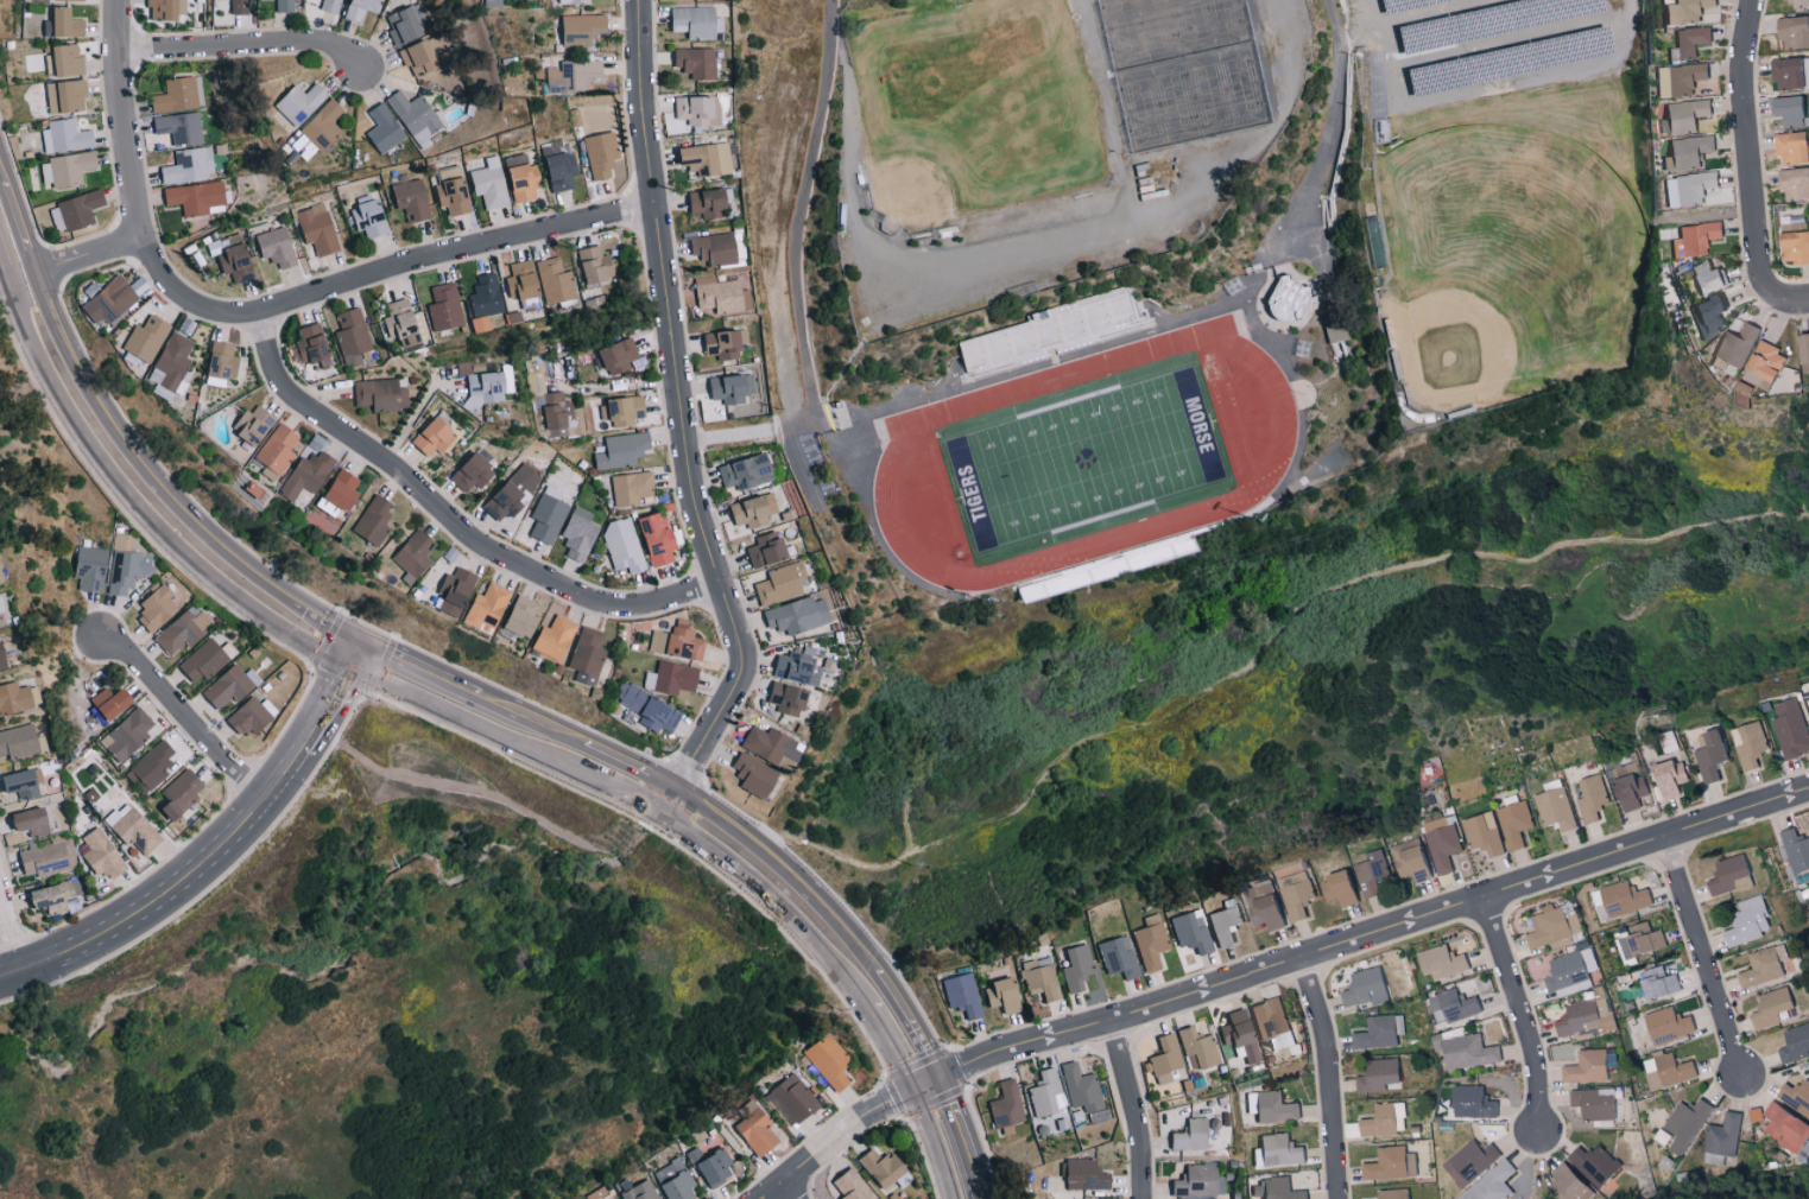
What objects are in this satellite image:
building: (575, 1)
building: (1799, 2)
building: (284, 5)
building: (331, 5)
building: (240, 6)
road: (1627, 6)
building: (362, 7)
building: (167, 8)
building: (1684, 11)
building: (696, 21)
building: (68, 23)
building: (405, 25)
building: (583, 28)
building: (1792, 31)
building: (1690, 40)
road: (246, 43)
building: (420, 58)
building: (68, 59)
building: (697, 61)
building: (1785, 72)
building: (573, 75)
building: (1684, 77)
building: (177, 95)
building: (67, 96)
building: (301, 102)
park: (973, 108)
building: (698, 109)
building: (1788, 110)
building: (1683, 115)
building: (416, 118)
building: (324, 125)
road: (1332, 126)
building: (179, 127)
building: (384, 128)
building: (67, 135)
building: (1790, 147)
building: (1685, 152)
road: (1751, 152)
building: (601, 153)
building: (708, 158)
building: (189, 165)
building: (559, 165)
building: (67, 169)
building: (523, 177)
building: (491, 182)
building: (1792, 183)
building: (1688, 188)
building: (453, 190)
building: (196, 197)
building: (412, 198)
building: (709, 202)
building: (76, 211)
building: (371, 217)
building: (318, 228)
building: (1694, 239)
road: (10, 247)
building: (278, 247)
building: (1794, 247)
building: (714, 248)
road: (81, 255)
building: (233, 256)
road: (797, 259)
park: (1503, 261)
building: (595, 265)
building: (1703, 278)
building: (540, 283)
building: (719, 294)
building: (109, 299)
building: (486, 300)
building: (1289, 300)
road: (1791, 302)
road: (268, 305)
building: (444, 306)
building: (1707, 313)
building: (403, 323)
building: (1336, 331)
building: (353, 336)
building: (145, 341)
building: (725, 344)
building: (1735, 345)
building: (310, 347)
building: (1802, 355)
building: (618, 356)
building: (1763, 362)
building: (223, 363)
building: (172, 367)
building: (535, 378)
building: (487, 388)
building: (730, 388)
building: (381, 394)
building: (624, 411)
road: (413, 413)
building: (556, 413)
road: (682, 420)
building: (254, 424)
building: (575, 427)
road: (741, 432)
building: (436, 437)
building: (278, 448)
building: (622, 450)
track: (896, 453)
park: (1084, 459)
building: (474, 471)
building: (748, 471)
building: (308, 474)
building: (632, 488)
road: (157, 489)
building: (341, 493)
building: (513, 493)
road: (137, 508)
road: (437, 509)
building: (754, 510)
building: (549, 515)
building: (375, 520)
building: (580, 534)
building: (658, 538)
building: (624, 545)
building: (767, 550)
building: (416, 553)
building: (91, 567)
building: (128, 570)
building: (1, 575)
building: (783, 584)
building: (457, 590)
building: (488, 607)
building: (157, 608)
building: (799, 615)
building: (524, 617)
building: (183, 630)
building: (556, 639)
building: (678, 641)
road: (1264, 647)
road: (354, 654)
building: (588, 655)
building: (4, 656)
building: (203, 661)
road: (418, 668)
building: (799, 668)
building: (672, 678)
building: (228, 687)
building: (17, 698)
building: (795, 698)
building: (114, 702)
building: (649, 708)
road: (327, 709)
road: (182, 716)
building: (252, 716)
road: (461, 719)
building: (1791, 728)
building: (128, 735)
building: (19, 741)
building: (772, 744)
building: (1748, 746)
building: (1710, 756)
building: (151, 768)
building: (755, 775)
building: (1669, 778)
building: (23, 784)
building: (1632, 791)
building: (183, 793)
road: (620, 793)
building: (1594, 800)
building: (1557, 810)
building: (33, 821)
building: (1516, 824)
building: (134, 829)
building: (1485, 835)
road: (747, 842)
building: (1444, 849)
building: (1795, 850)
building: (102, 854)
building: (49, 858)
building: (1413, 861)
building: (1374, 875)
building: (1728, 876)
building: (1343, 889)
road: (171, 892)
building: (57, 896)
building: (1298, 896)
building: (1621, 900)
road: (776, 902)
building: (1270, 912)
road: (14, 920)
building: (1747, 922)
building: (1227, 925)
building: (1550, 927)
building: (1193, 932)
building: (1646, 939)
building: (1152, 943)
building: (1120, 957)
building: (1447, 960)
road: (1703, 962)
building: (1763, 966)
building: (1077, 969)
road: (1270, 972)
building: (1571, 972)
building: (1041, 977)
building: (1663, 984)
building: (1367, 988)
building: (963, 995)
building: (1005, 995)
building: (1459, 1003)
building: (1770, 1008)
road: (1522, 1017)
building: (1273, 1023)
building: (1671, 1024)
building: (1381, 1033)
building: (1241, 1036)
building: (1795, 1043)
building: (1198, 1047)
road: (892, 1048)
building: (1467, 1051)
building: (1165, 1059)
building: (830, 1061)
building: (1590, 1068)
building: (1671, 1072)
building: (1380, 1076)
road: (1330, 1079)
building: (1082, 1087)
building: (1045, 1093)
building: (1795, 1096)
building: (791, 1100)
building: (1475, 1103)
building: (1596, 1104)
building: (1007, 1106)
building: (1273, 1106)
road: (1132, 1109)
building: (1385, 1121)
building: (1688, 1124)
building: (1784, 1128)
building: (757, 1129)
building: (1194, 1135)
building: (1723, 1136)
road: (962, 1137)
building: (1216, 1141)
road: (936, 1144)
building: (1279, 1152)
building: (1476, 1160)
building: (1393, 1165)
building: (711, 1166)
building: (1598, 1166)
building: (883, 1167)
building: (1087, 1175)
building: (676, 1180)
building: (1200, 1181)
building: (1495, 1184)
building: (1573, 1184)
building: (1277, 1190)
building: (643, 1191)
road: (786, 1192)
building: (1394, 1194)
road: (981, 1198)

